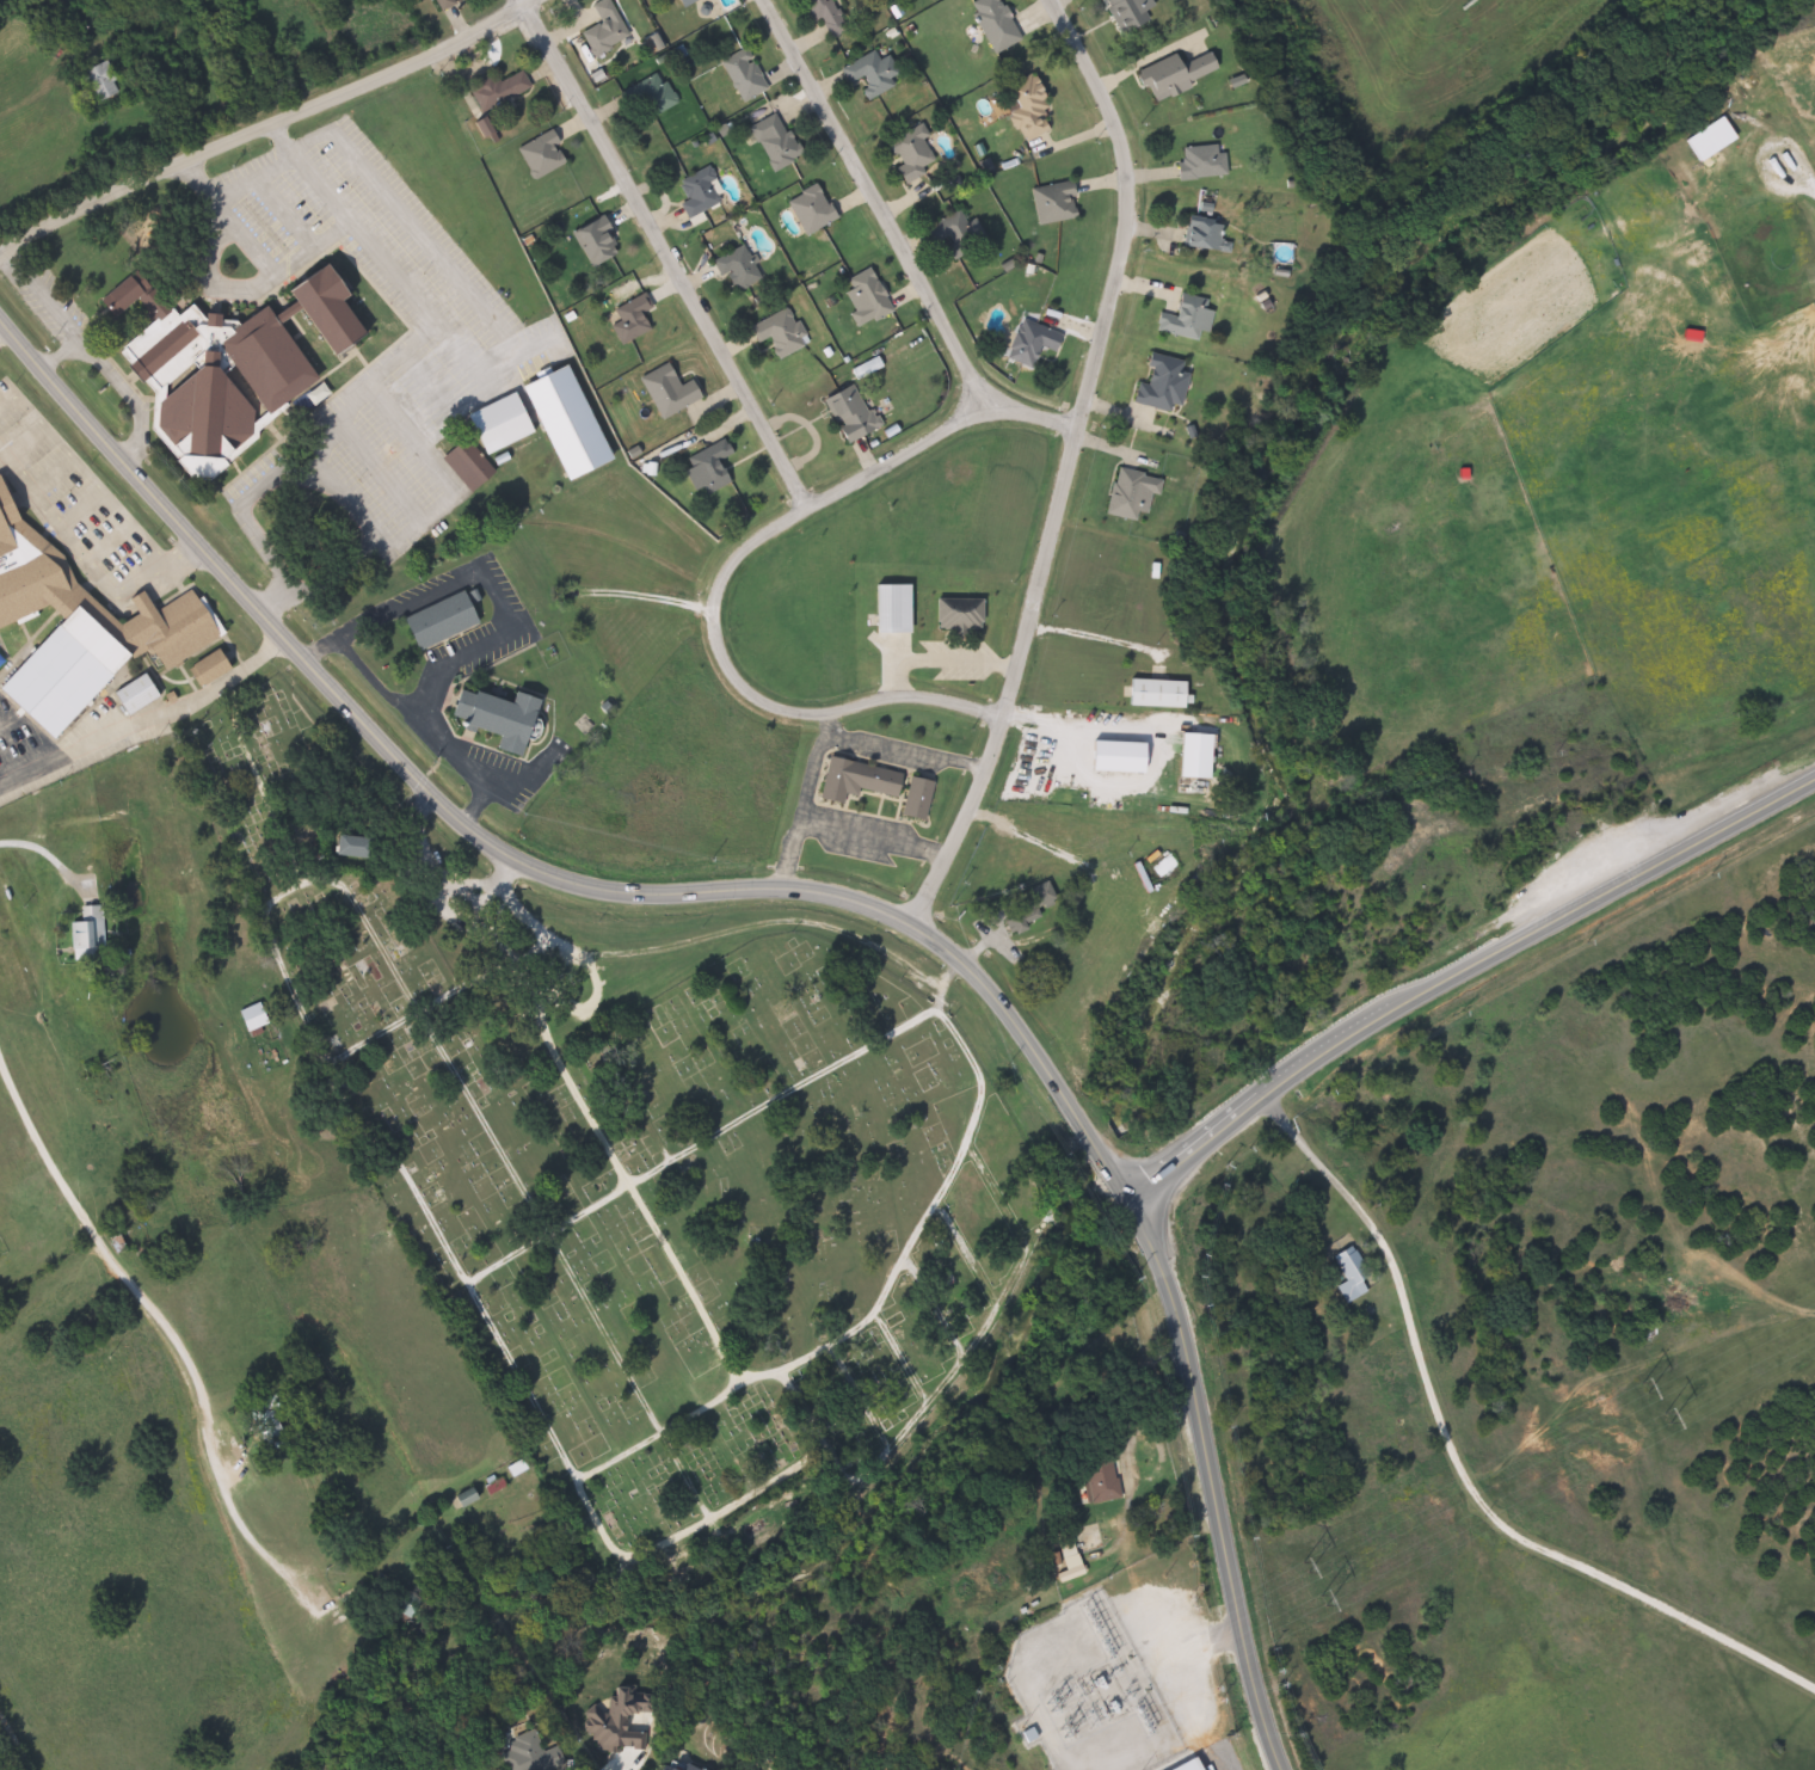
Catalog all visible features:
building: (652, 0)
building: (690, 2)
building: (450, 4)
building: (1134, 13)
building: (832, 17)
building: (1001, 24)
building: (610, 29)
road: (60, 72)
building: (876, 74)
building: (1183, 74)
building: (749, 75)
building: (106, 82)
building: (505, 90)
building: (654, 97)
building: (1034, 106)
road: (267, 122)
building: (490, 129)
building: (1716, 140)
road: (1774, 140)
building: (781, 142)
building: (918, 154)
building: (1208, 161)
road: (250, 172)
road: (1814, 190)
building: (705, 192)
road: (872, 202)
building: (1060, 202)
building: (817, 209)
building: (964, 233)
building: (1214, 235)
building: (604, 242)
road: (663, 253)
building: (743, 268)
road: (42, 296)
building: (873, 299)
building: (1194, 319)
building: (636, 320)
building: (785, 332)
building: (1038, 343)
road: (524, 351)
building: (239, 362)
road: (115, 377)
building: (1170, 385)
parking lot: (408, 388)
building: (675, 391)
building: (855, 416)
building: (509, 424)
building: (577, 425)
road: (290, 456)
road: (1063, 465)
building: (472, 468)
building: (714, 468)
building: (1138, 494)
road: (81, 552)
road: (725, 566)
road: (470, 567)
road: (647, 589)
building: (967, 614)
building: (448, 619)
building: (82, 625)
road: (931, 658)
building: (216, 666)
road: (367, 670)
building: (1164, 692)
building: (142, 695)
crop: (651, 702)
building: (509, 715)
road: (146, 727)
road: (830, 742)
road: (1157, 743)
building: (1206, 754)
road: (460, 758)
building: (865, 779)
building: (925, 797)
road: (869, 835)
building: (364, 844)
road: (50, 859)
road: (517, 864)
building: (1042, 899)
building: (91, 934)
road: (697, 938)
road: (1458, 969)
building: (259, 1016)
park: (635, 1163)
building: (122, 1243)
building: (1355, 1278)
road: (162, 1320)
building: (271, 1425)
road: (1457, 1467)
building: (1106, 1480)
road: (1210, 1480)
road: (578, 1488)
building: (917, 1695)
building: (535, 1754)
road: (1218, 1765)
building: (684, 1766)
building: (462, 1769)

